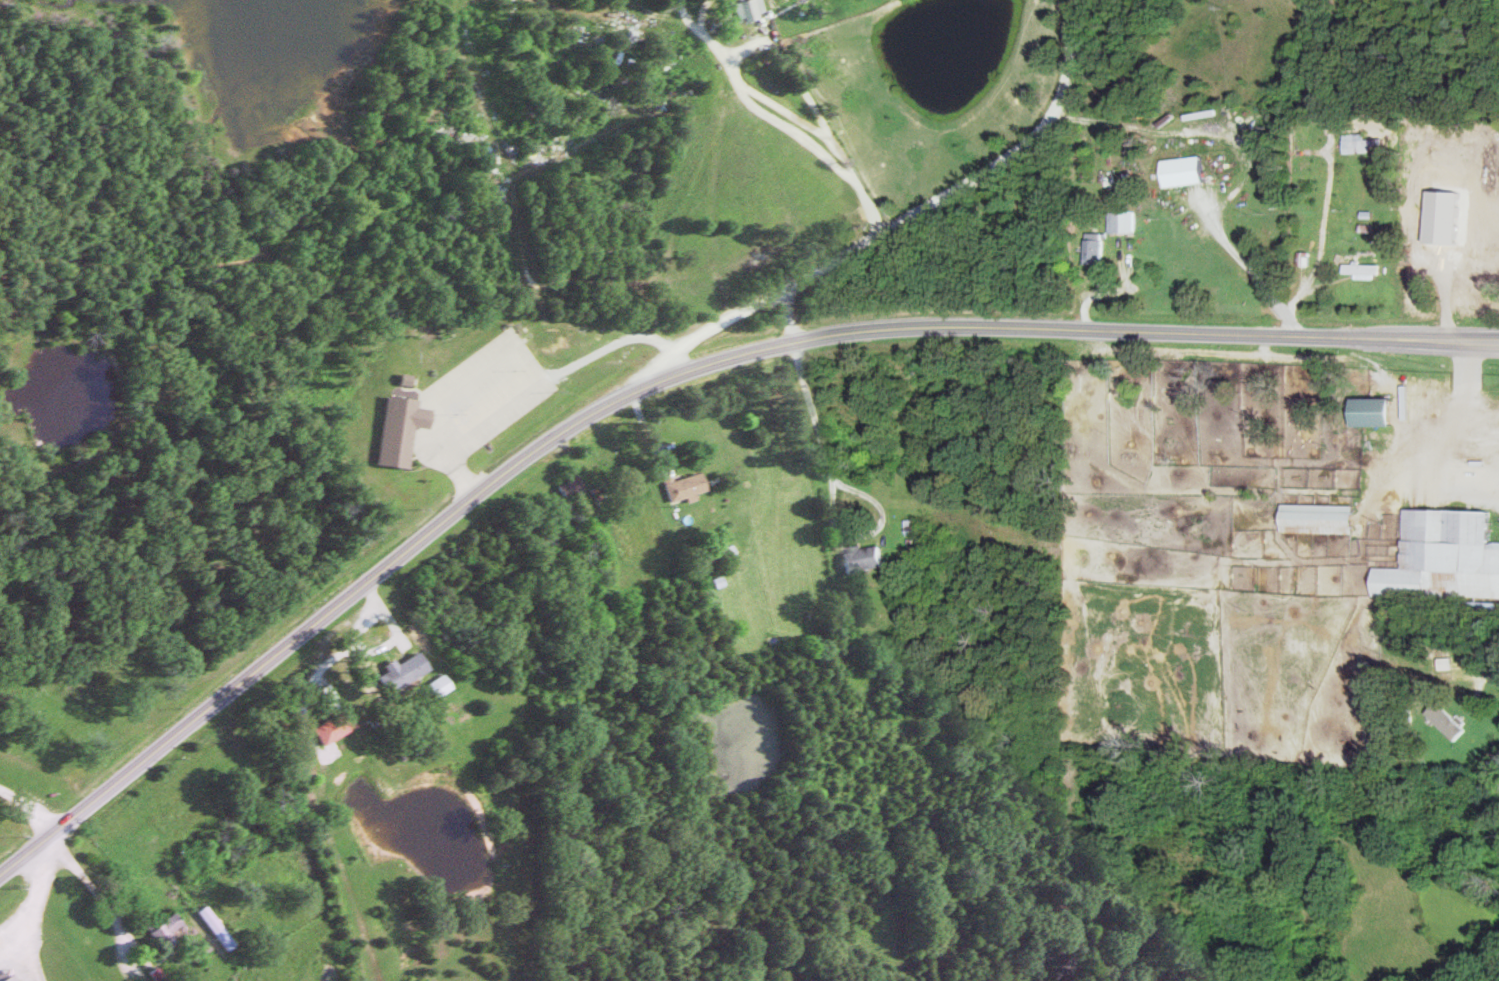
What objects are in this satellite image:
building: (754, 9)
road: (828, 132)
building: (1367, 143)
building: (1191, 171)
building: (1128, 222)
road: (879, 241)
building: (1101, 248)
building: (1371, 270)
road: (670, 379)
building: (1379, 412)
building: (406, 429)
road: (825, 451)
building: (689, 486)
building: (1323, 519)
building: (1448, 556)
building: (869, 559)
building: (407, 671)
building: (443, 685)
building: (331, 693)
building: (1452, 722)
building: (338, 726)
road: (30, 805)
road: (111, 909)
building: (221, 926)
building: (170, 929)
building: (205, 951)
building: (15, 978)

